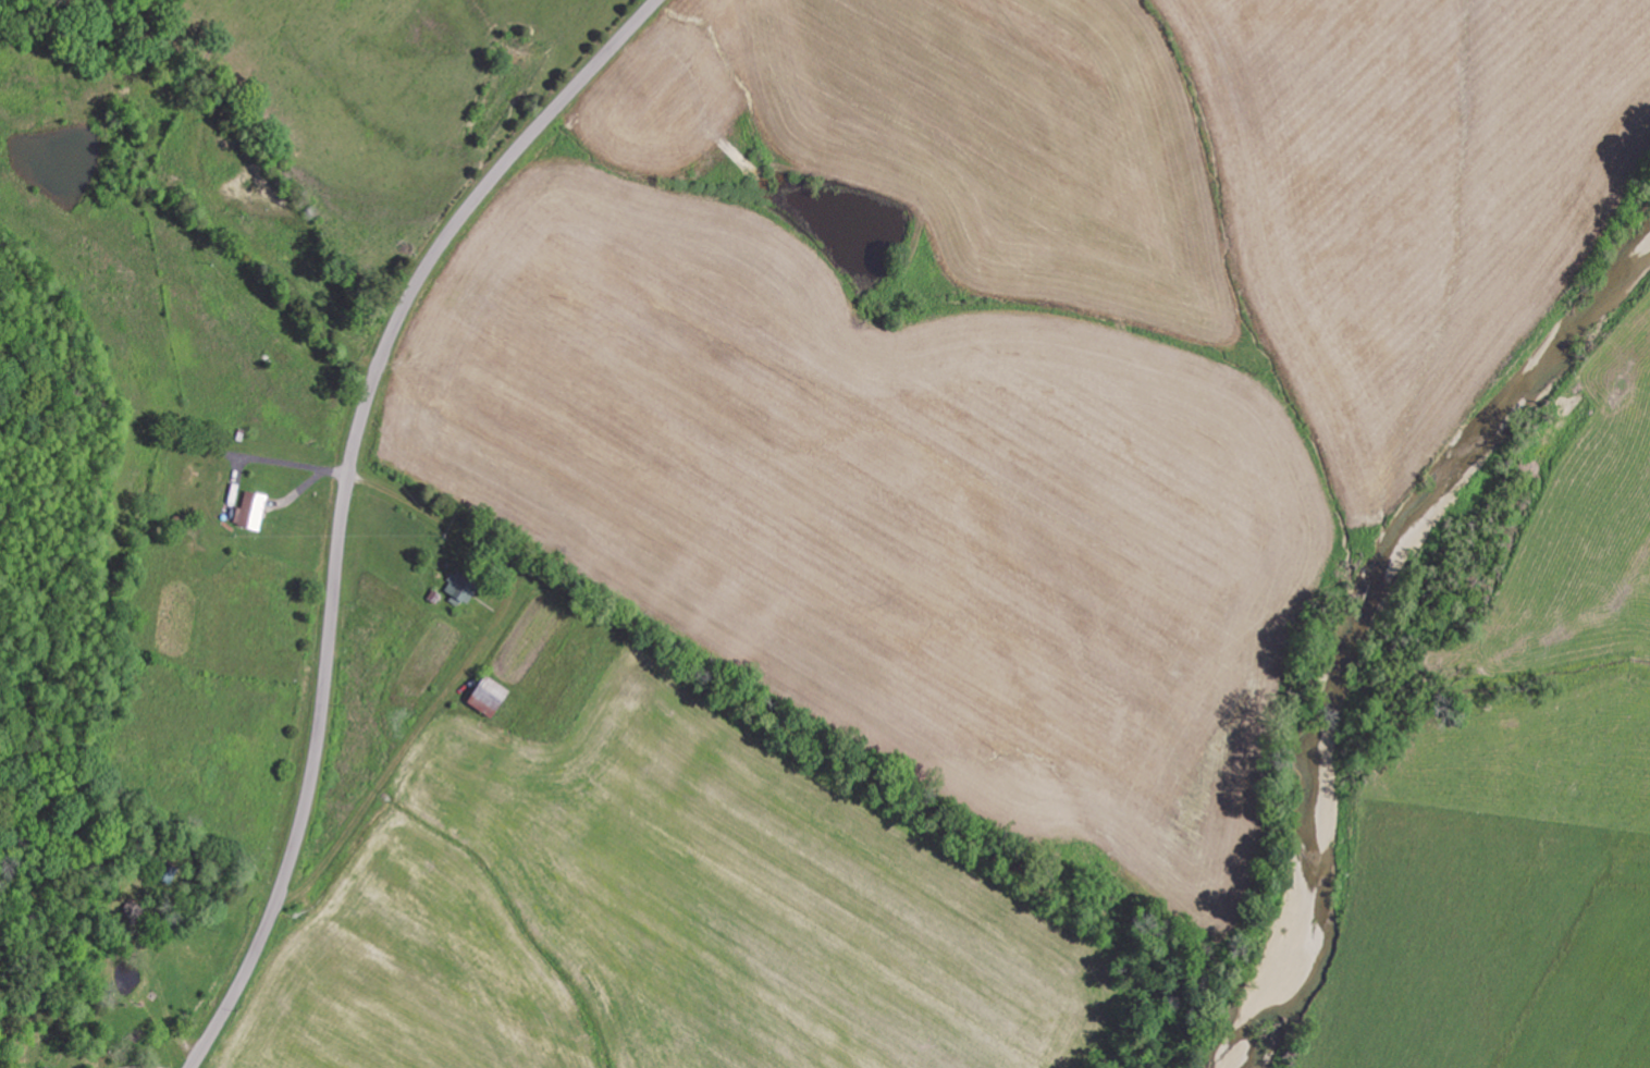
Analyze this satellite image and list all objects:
road: (258, 229)
road: (345, 495)
building: (250, 511)
building: (458, 588)
building: (491, 693)

